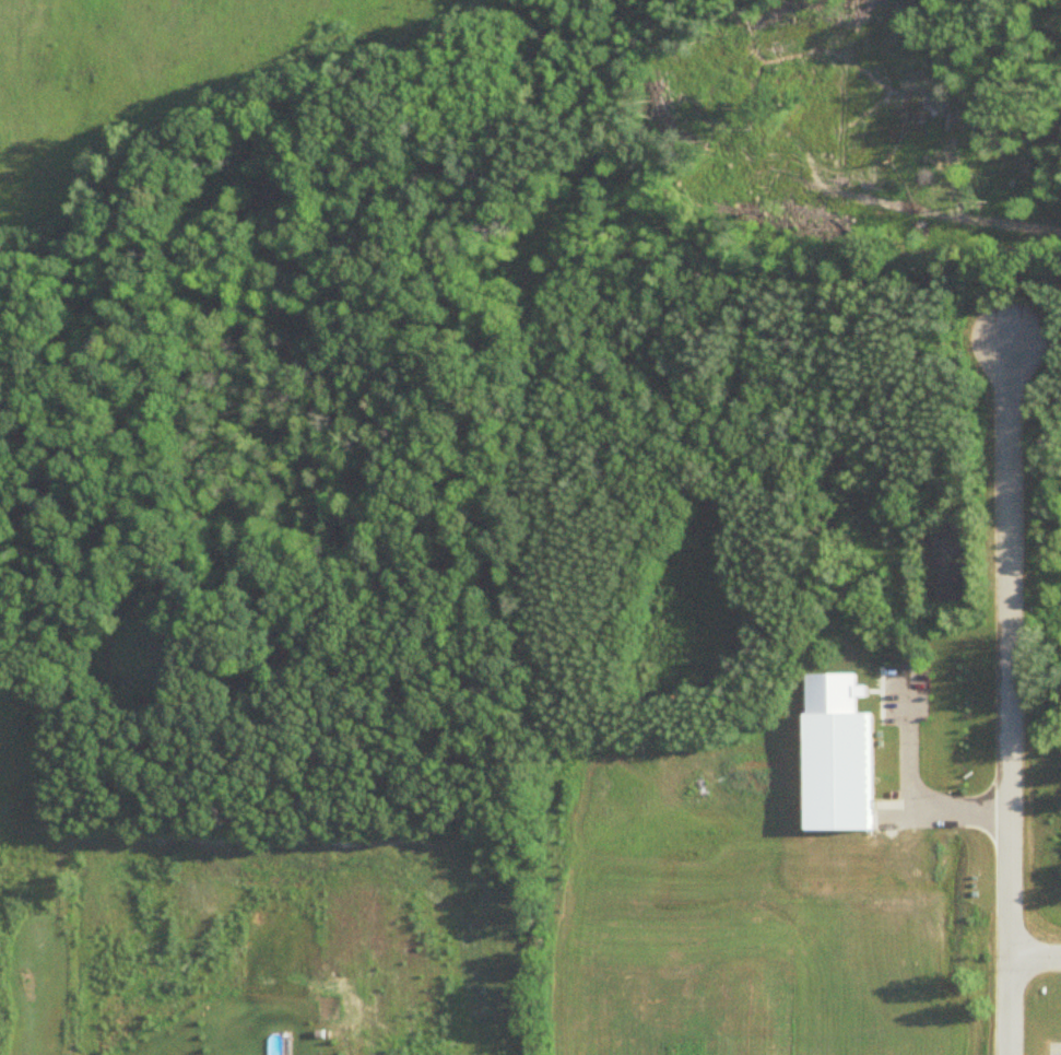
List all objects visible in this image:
road: (861, 194)
road: (1002, 285)
road: (1003, 695)
building: (836, 755)
road: (908, 781)
road: (1033, 950)
parking lot: (1054, 1047)

